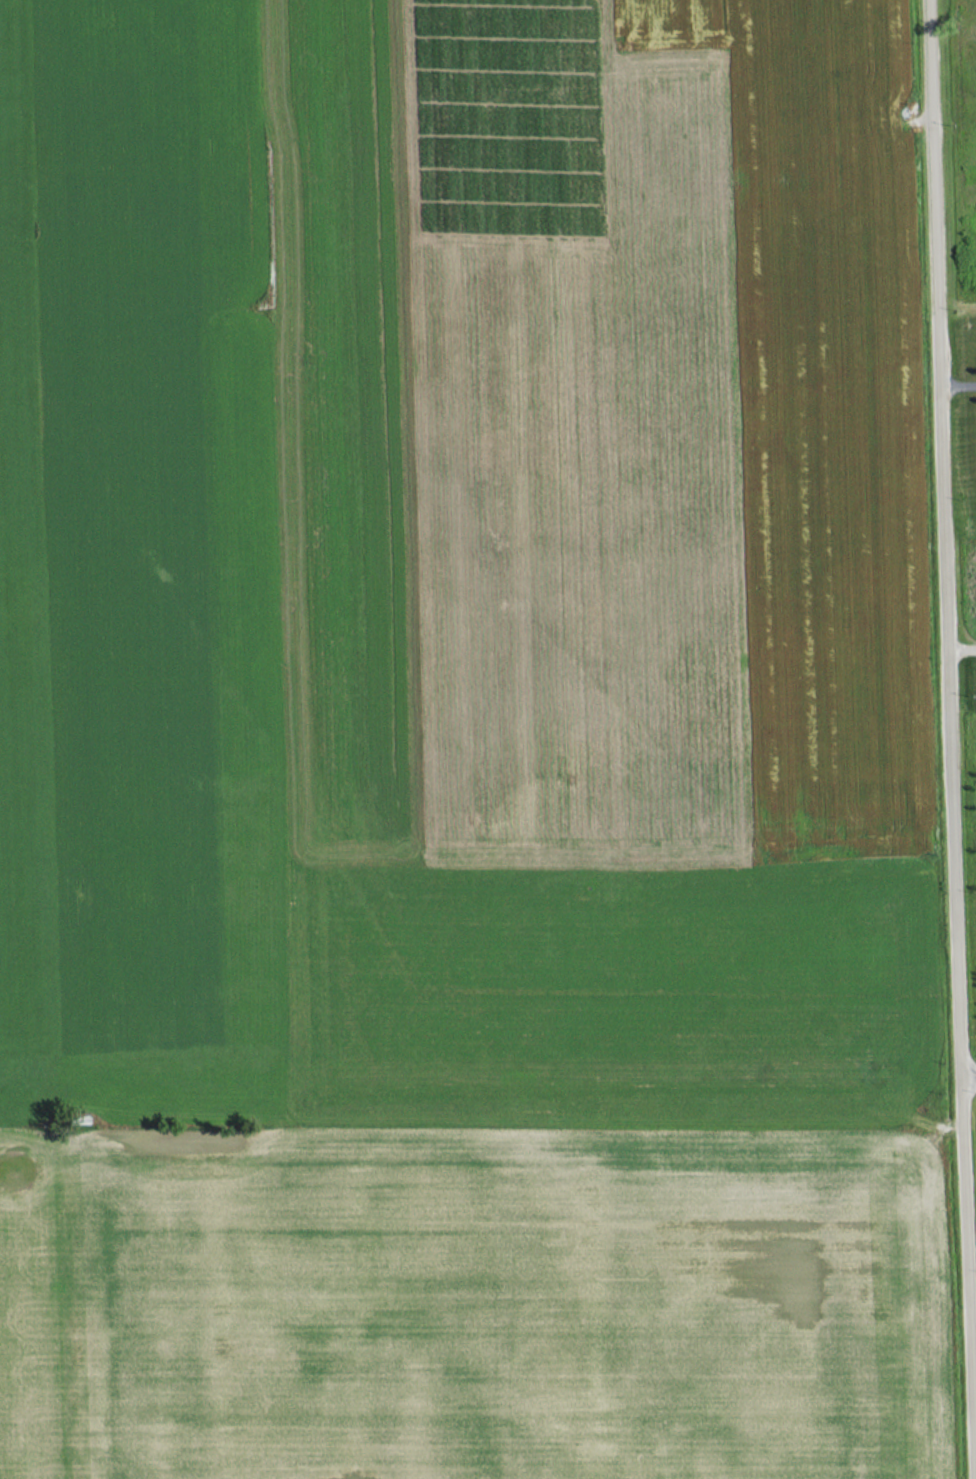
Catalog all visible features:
road: (956, 386)
crop: (445, 601)
road: (949, 718)
road: (970, 1073)
crop: (499, 1303)

